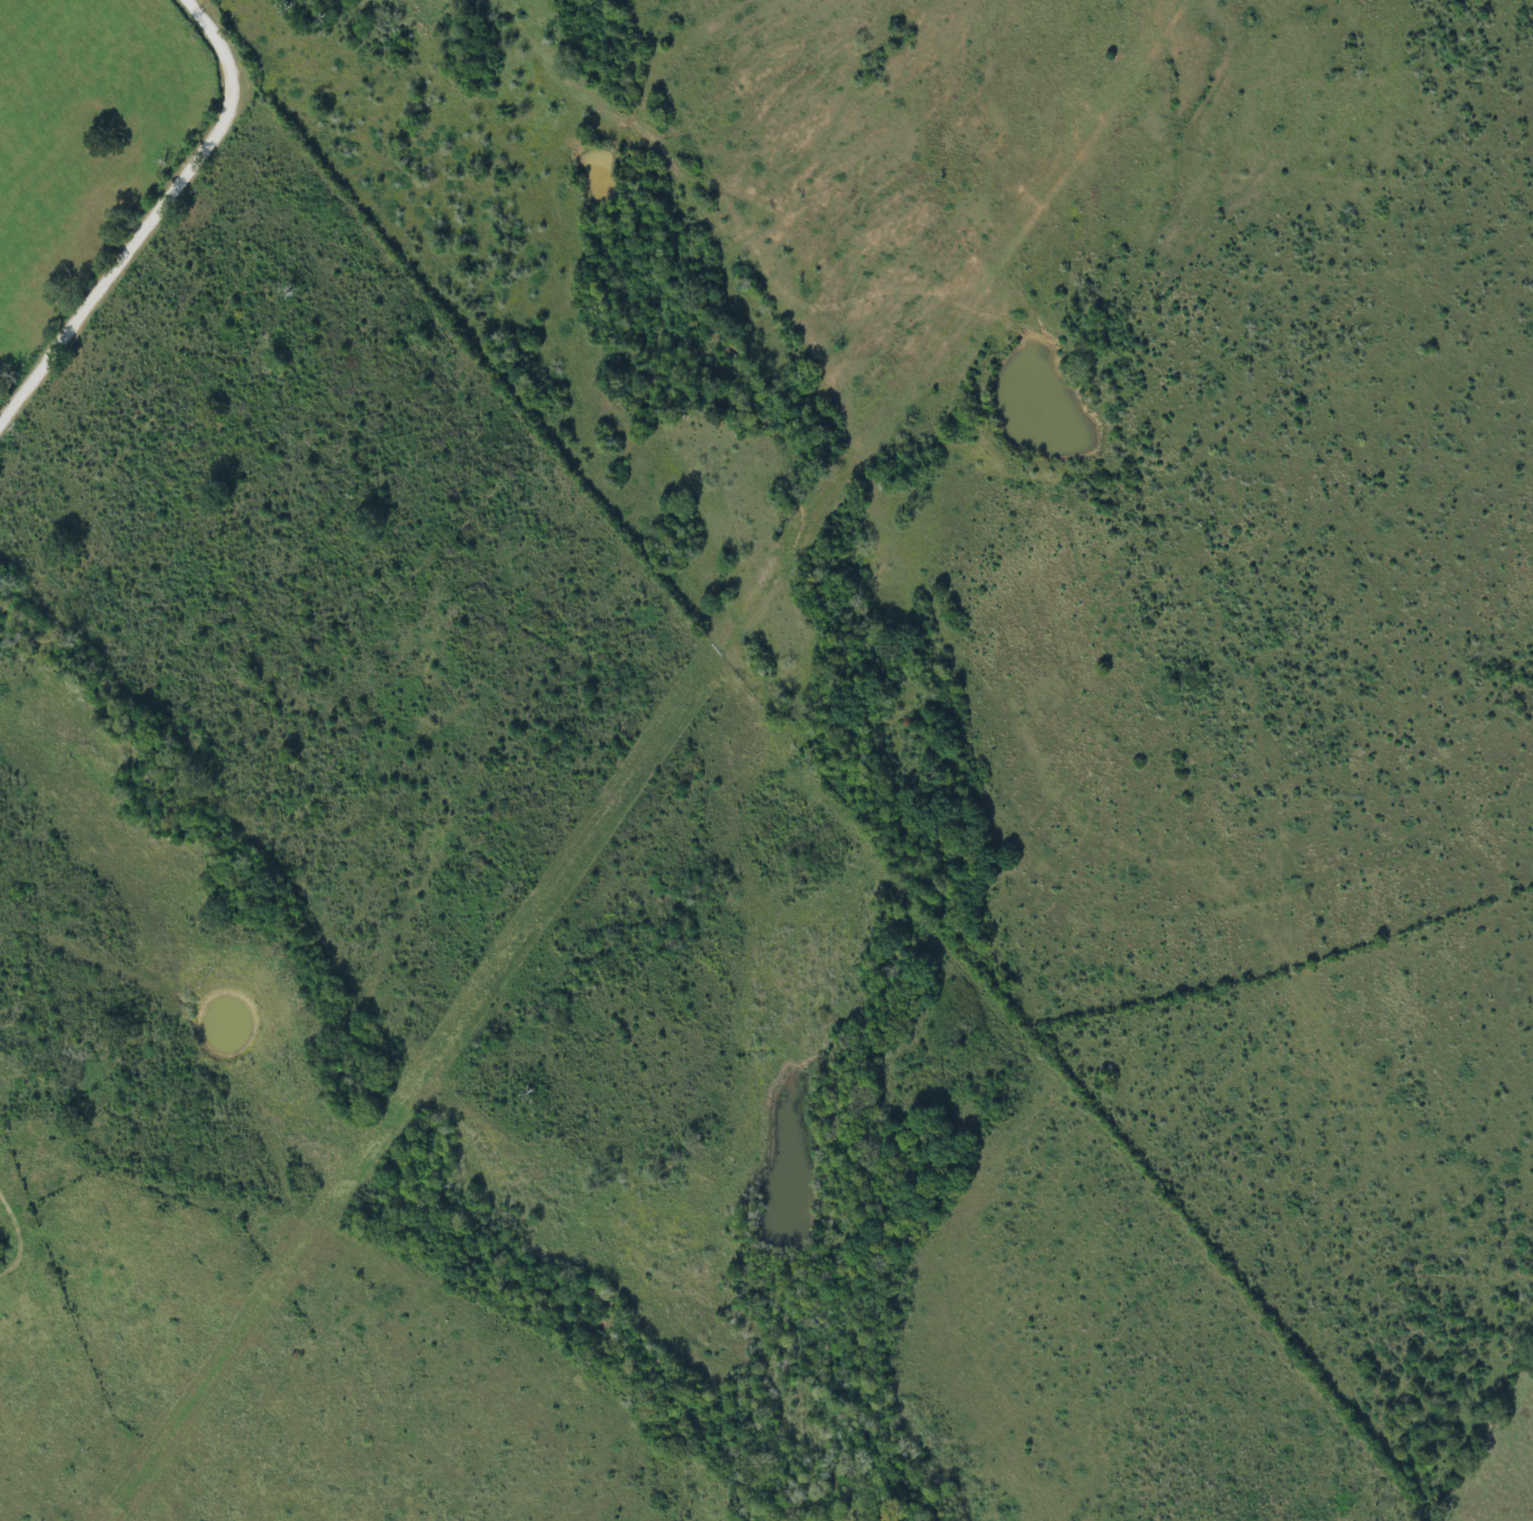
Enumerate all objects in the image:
road: (152, 224)
road: (36, 1150)

